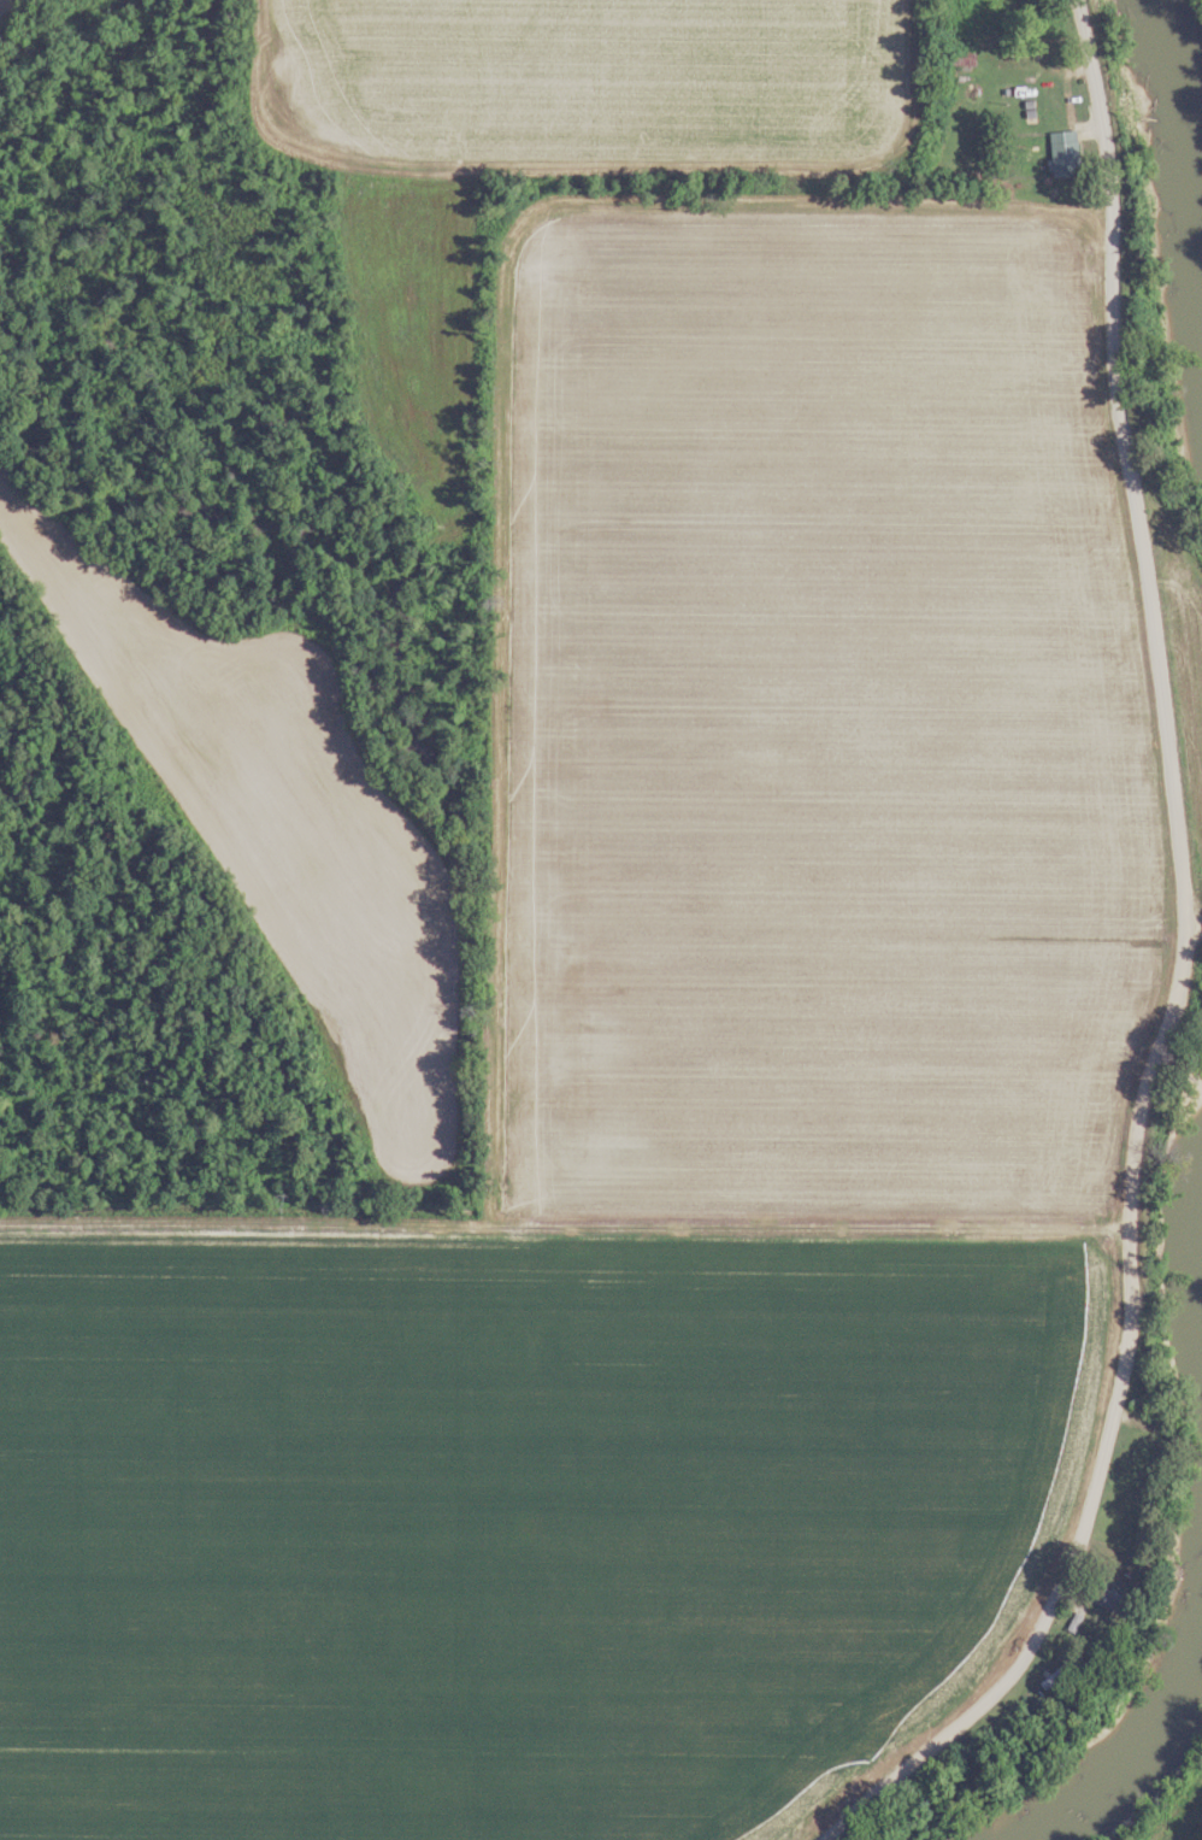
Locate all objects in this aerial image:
building: (961, 57)
building: (1063, 154)
river: (1177, 181)
road: (1180, 974)
building: (1108, 1594)
river: (1151, 1698)

